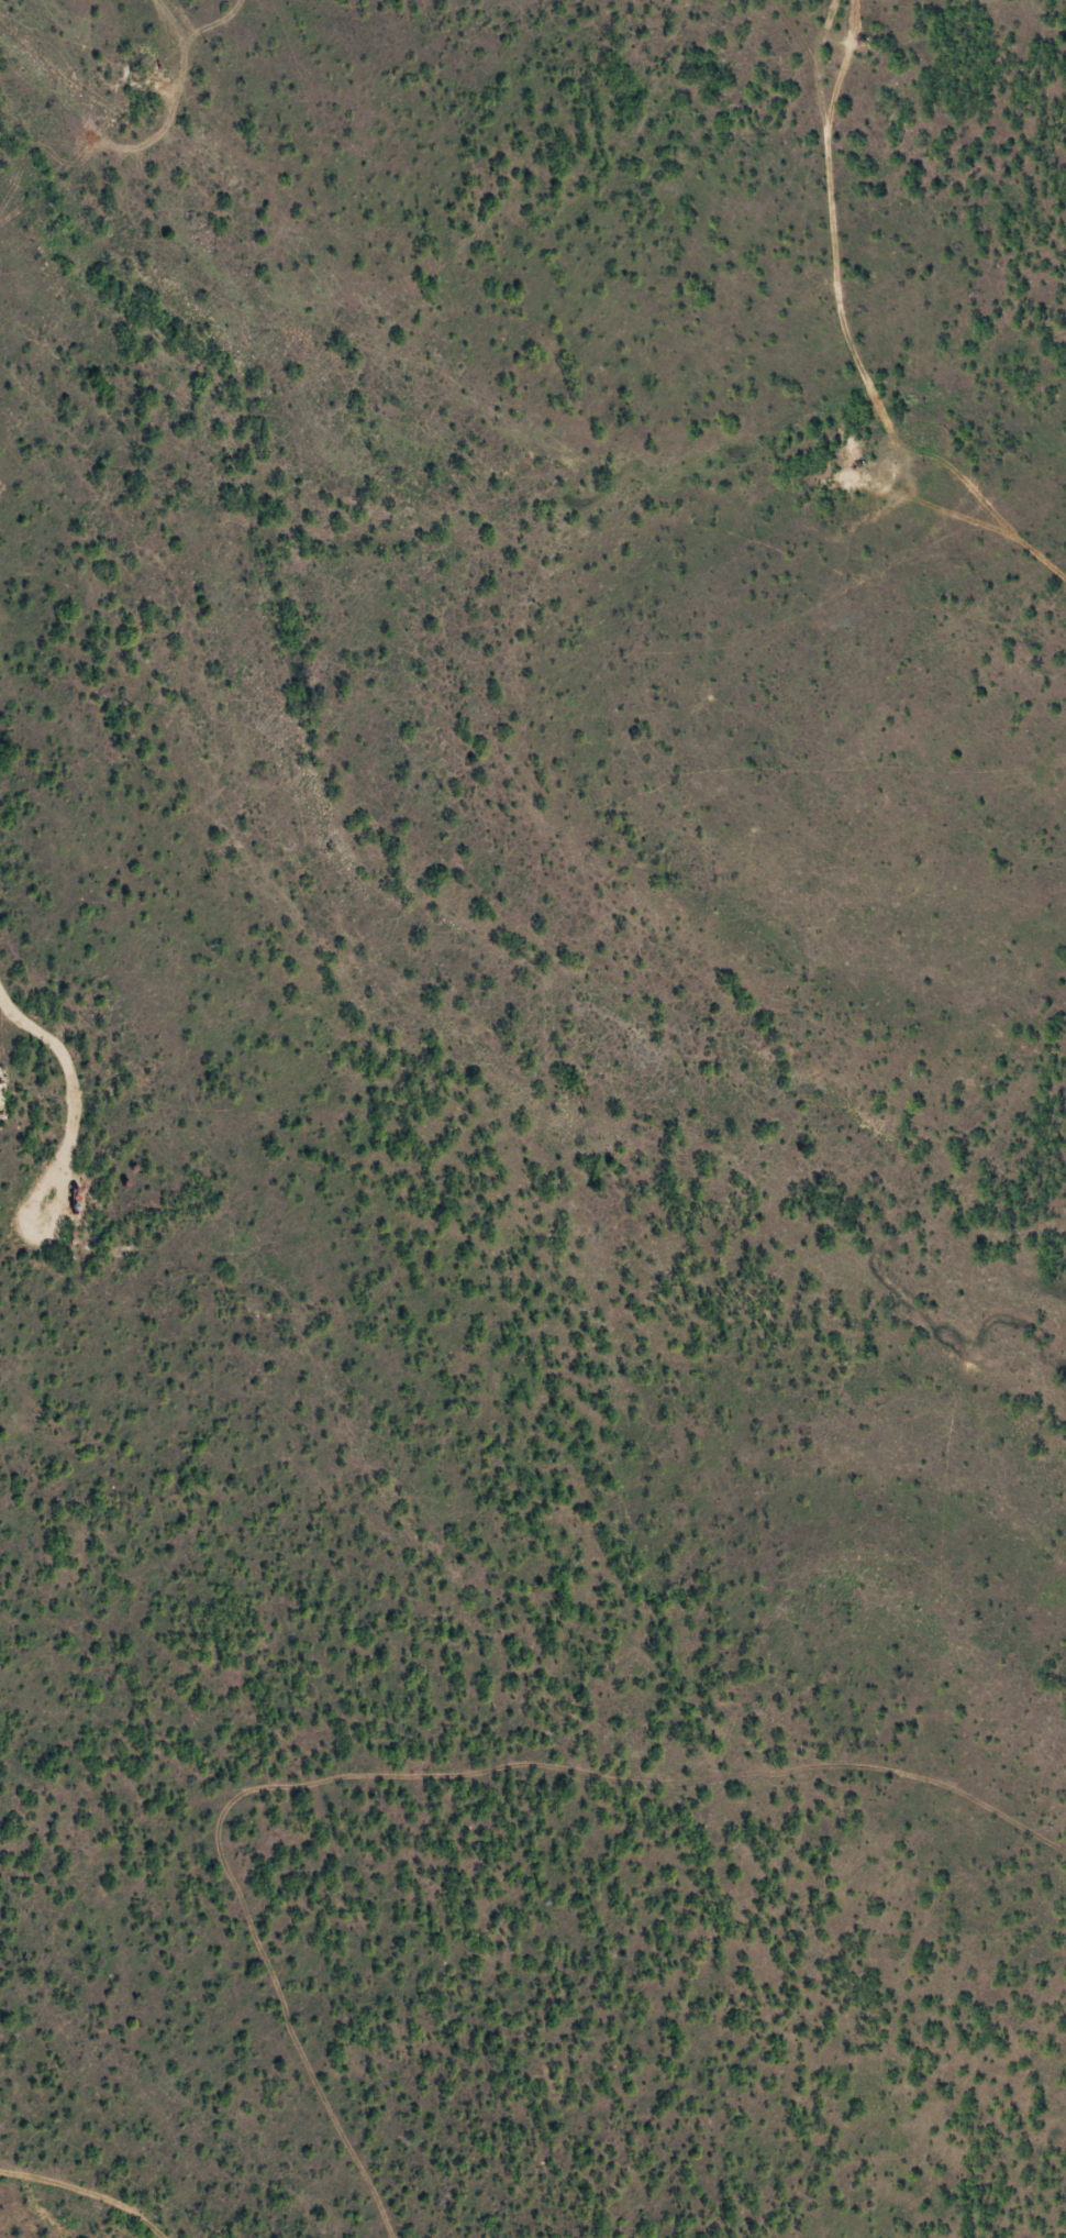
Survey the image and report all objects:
road: (70, 1099)
road: (86, 2193)

